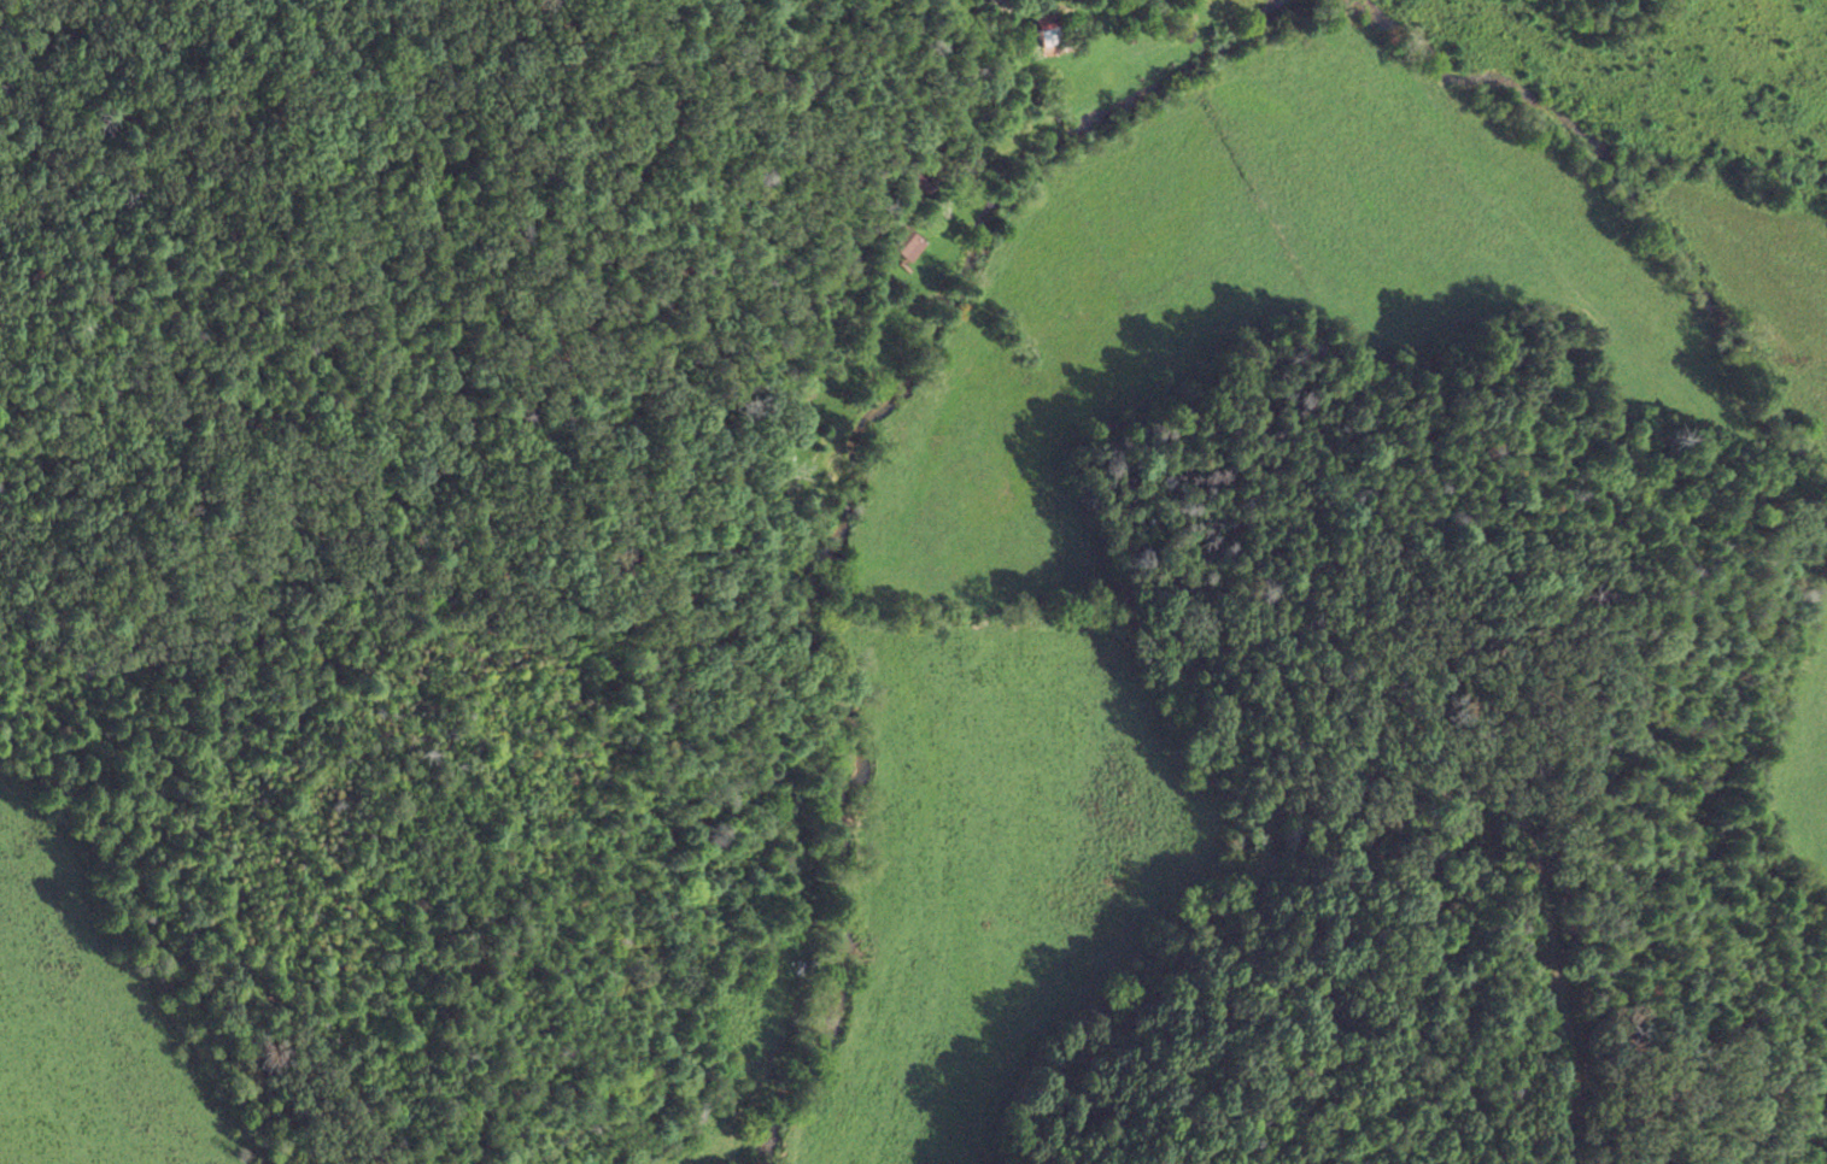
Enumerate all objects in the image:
building: (906, 243)

